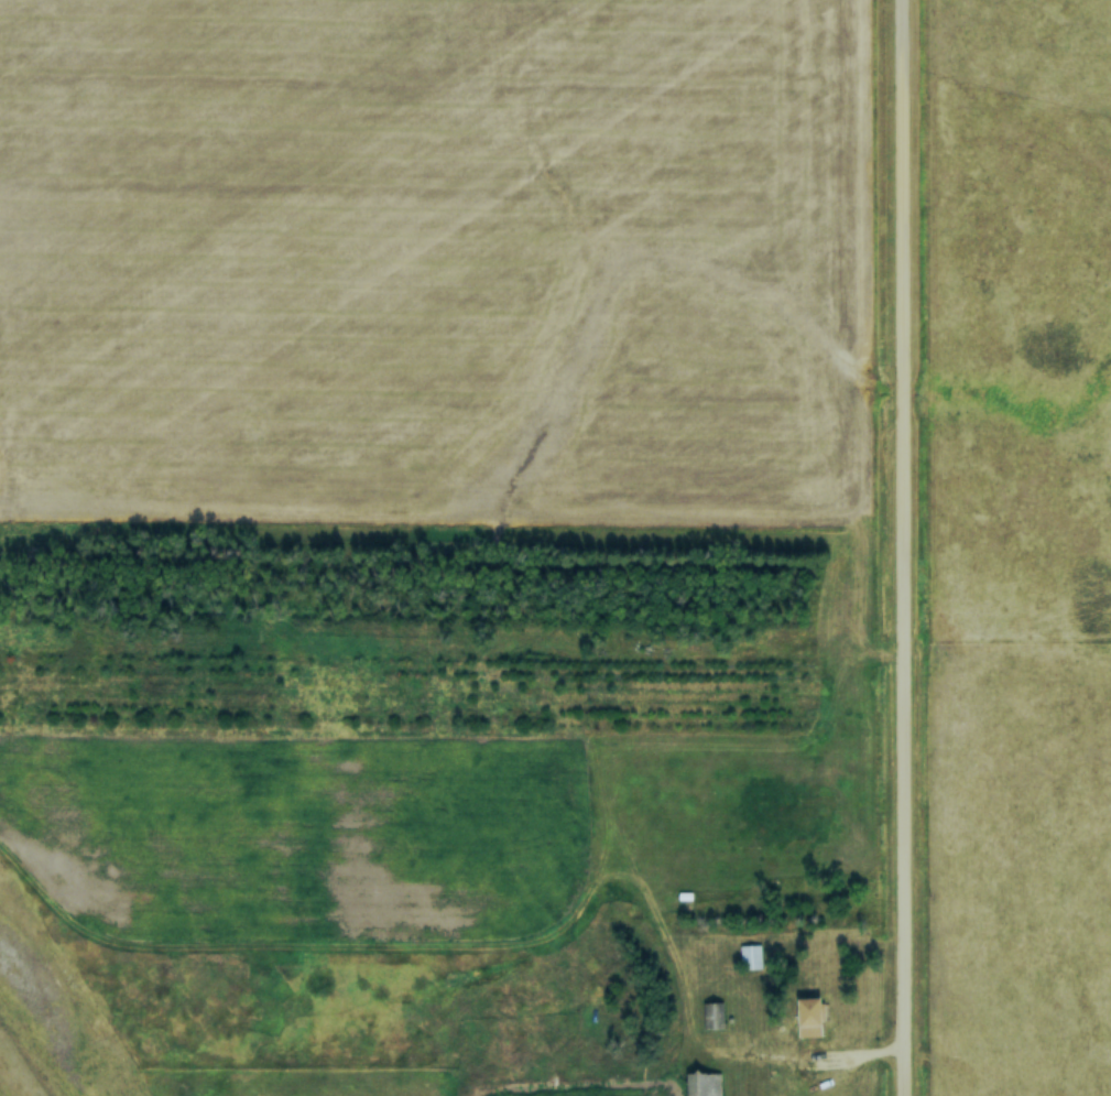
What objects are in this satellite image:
road: (904, 547)
building: (749, 957)
building: (711, 1016)
building: (807, 1017)
road: (812, 1052)
building: (702, 1084)

